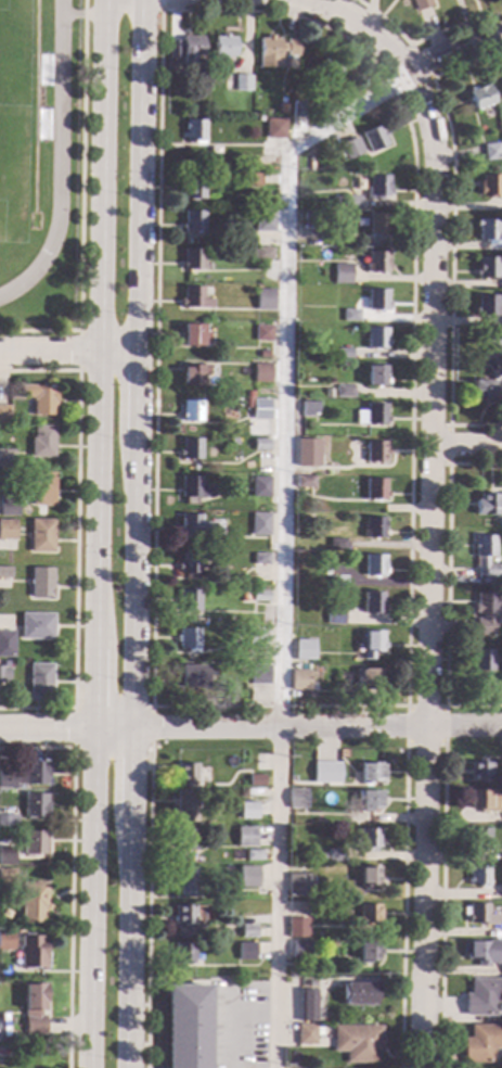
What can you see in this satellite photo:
road: (159, 4)
building: (420, 4)
road: (72, 13)
road: (422, 38)
building: (223, 46)
building: (185, 48)
building: (274, 50)
road: (364, 58)
road: (420, 61)
road: (397, 62)
building: (325, 73)
building: (242, 81)
building: (480, 97)
building: (283, 107)
building: (297, 109)
park: (16, 122)
building: (280, 128)
building: (194, 130)
building: (374, 138)
building: (350, 148)
building: (491, 151)
track: (56, 157)
road: (140, 176)
building: (252, 179)
building: (489, 185)
building: (377, 187)
building: (193, 188)
building: (349, 202)
road: (79, 203)
building: (313, 216)
building: (263, 220)
building: (193, 221)
building: (378, 223)
building: (489, 231)
road: (450, 238)
building: (259, 252)
building: (192, 258)
building: (377, 262)
building: (486, 267)
building: (342, 274)
building: (193, 297)
building: (263, 298)
building: (377, 298)
building: (486, 306)
building: (349, 315)
building: (261, 332)
building: (192, 334)
building: (376, 338)
road: (77, 349)
building: (493, 349)
road: (67, 352)
building: (344, 352)
building: (262, 354)
building: (260, 372)
building: (192, 373)
building: (375, 374)
building: (481, 389)
building: (344, 391)
building: (248, 392)
road: (136, 393)
building: (40, 397)
building: (247, 400)
building: (260, 408)
building: (307, 408)
building: (191, 410)
building: (4, 414)
building: (371, 415)
building: (41, 441)
building: (232, 441)
road: (447, 443)
road: (465, 443)
building: (259, 444)
building: (189, 448)
building: (375, 452)
building: (307, 455)
building: (7, 457)
building: (303, 481)
building: (259, 486)
building: (193, 487)
building: (41, 488)
building: (374, 488)
building: (259, 503)
building: (488, 504)
building: (8, 506)
building: (258, 523)
building: (193, 525)
building: (373, 527)
building: (7, 530)
road: (98, 534)
building: (41, 535)
road: (74, 535)
road: (283, 537)
building: (336, 544)
building: (484, 556)
building: (258, 558)
building: (186, 562)
building: (373, 564)
road: (428, 567)
building: (324, 571)
building: (4, 572)
road: (132, 580)
building: (336, 581)
building: (40, 582)
road: (445, 585)
building: (257, 596)
building: (186, 600)
building: (372, 602)
building: (257, 611)
building: (484, 612)
building: (346, 619)
building: (35, 625)
building: (254, 637)
building: (186, 638)
building: (371, 643)
building: (5, 644)
building: (303, 649)
building: (480, 659)
building: (3, 674)
building: (257, 674)
building: (188, 676)
building: (343, 676)
building: (369, 678)
building: (39, 679)
building: (298, 679)
road: (404, 705)
road: (149, 725)
road: (64, 726)
road: (314, 726)
road: (72, 727)
road: (128, 767)
building: (326, 772)
building: (370, 772)
building: (478, 772)
building: (184, 773)
building: (25, 774)
building: (255, 779)
building: (18, 786)
building: (296, 799)
building: (369, 800)
building: (478, 800)
building: (34, 805)
building: (183, 805)
building: (247, 810)
building: (8, 821)
building: (244, 836)
building: (183, 838)
building: (478, 838)
building: (369, 839)
building: (34, 842)
building: (253, 854)
building: (334, 854)
building: (7, 855)
building: (321, 855)
road: (69, 872)
building: (369, 875)
building: (478, 875)
building: (246, 876)
building: (7, 877)
building: (183, 879)
building: (296, 885)
building: (501, 891)
building: (33, 901)
road: (146, 906)
road: (401, 906)
road: (440, 906)
building: (182, 914)
building: (366, 914)
building: (479, 915)
building: (296, 927)
building: (246, 931)
road: (126, 939)
building: (5, 940)
building: (299, 945)
building: (245, 951)
building: (366, 951)
building: (31, 952)
building: (181, 952)
building: (480, 952)
building: (358, 992)
building: (482, 996)
building: (308, 1005)
building: (34, 1007)
parking lot: (235, 1022)
building: (186, 1026)
road: (228, 1027)
building: (305, 1034)
building: (15, 1038)
building: (357, 1042)
building: (481, 1043)

